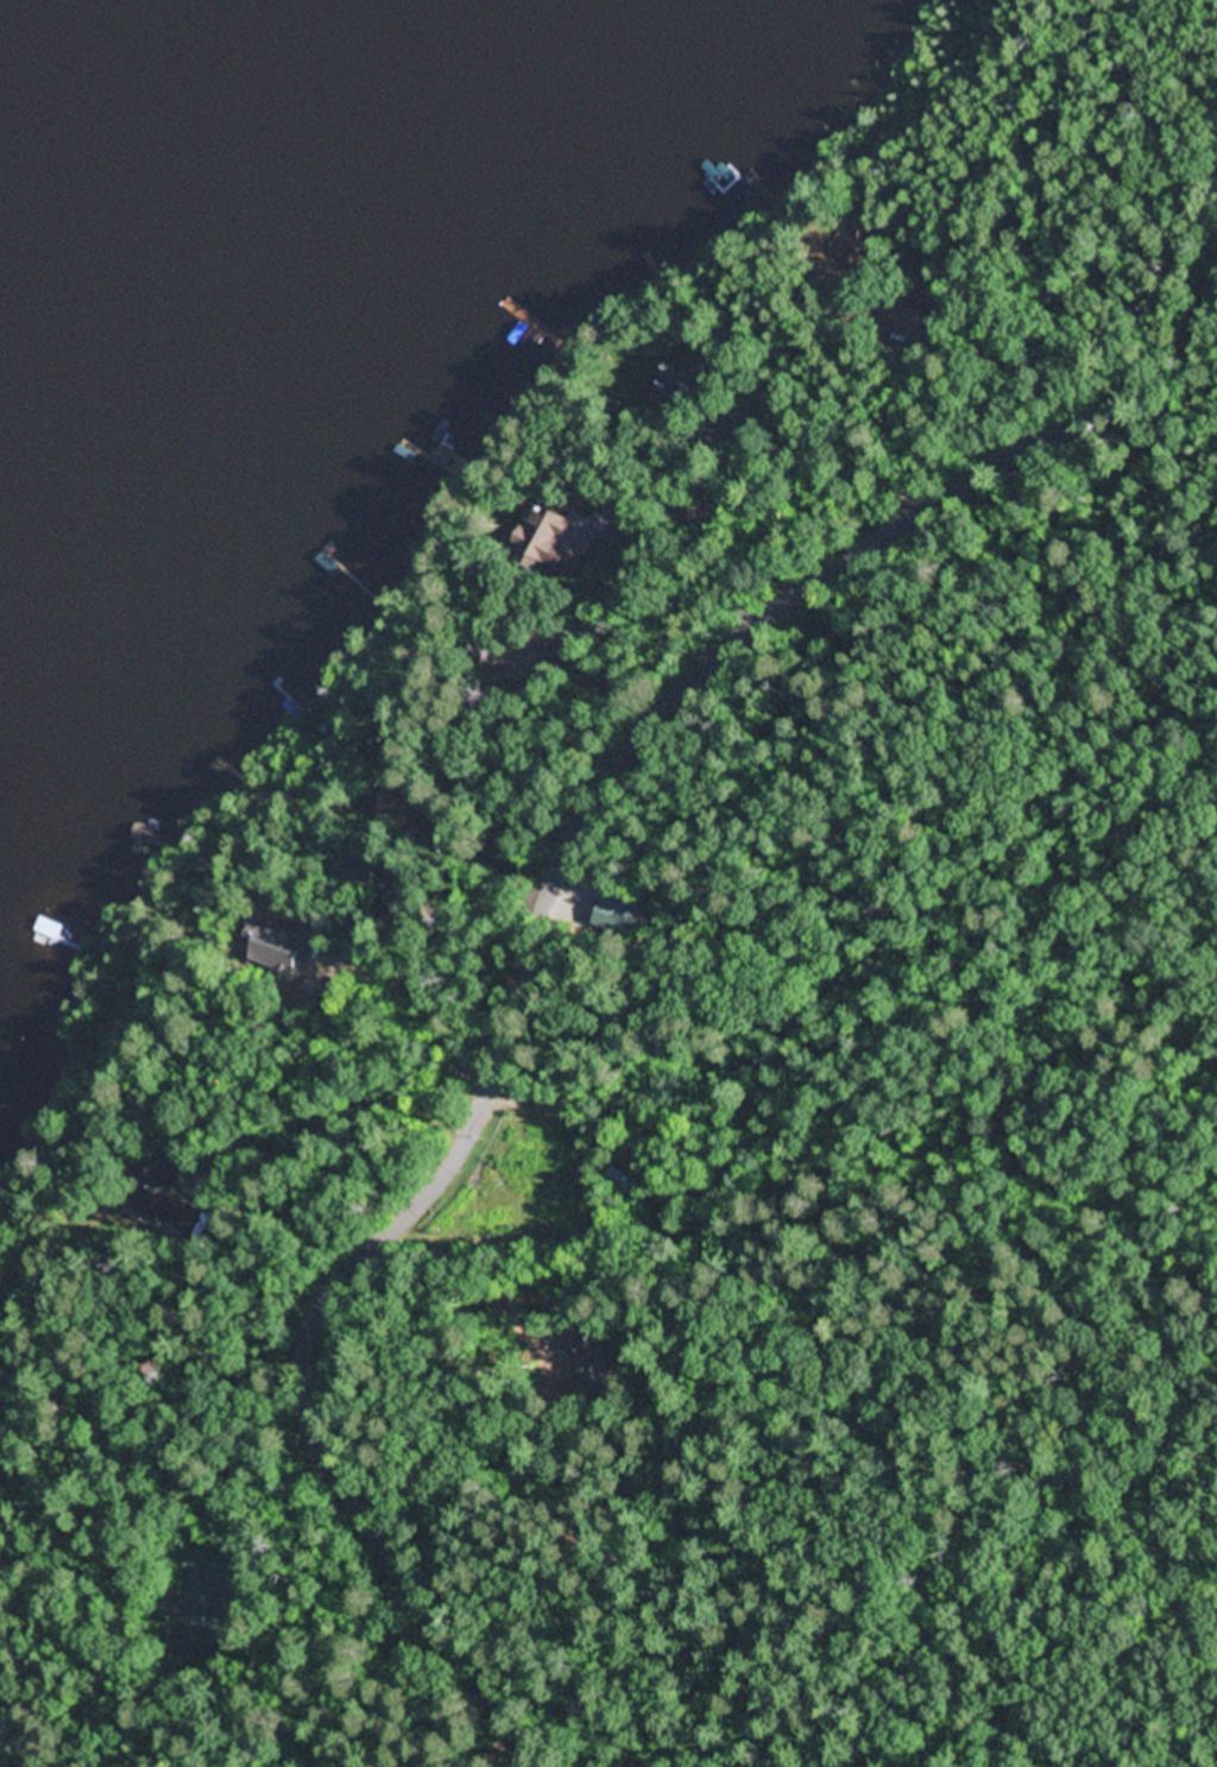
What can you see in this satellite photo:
building: (864, 245)
building: (940, 303)
road: (1207, 315)
building: (687, 379)
building: (711, 513)
building: (550, 542)
building: (488, 648)
building: (568, 655)
building: (386, 732)
building: (342, 844)
road: (869, 853)
building: (357, 869)
building: (393, 898)
building: (365, 929)
building: (273, 940)
road: (532, 967)
building: (187, 986)
road: (279, 1141)
building: (619, 1181)
building: (166, 1189)
building: (591, 1219)
building: (601, 1362)
road: (466, 1736)

